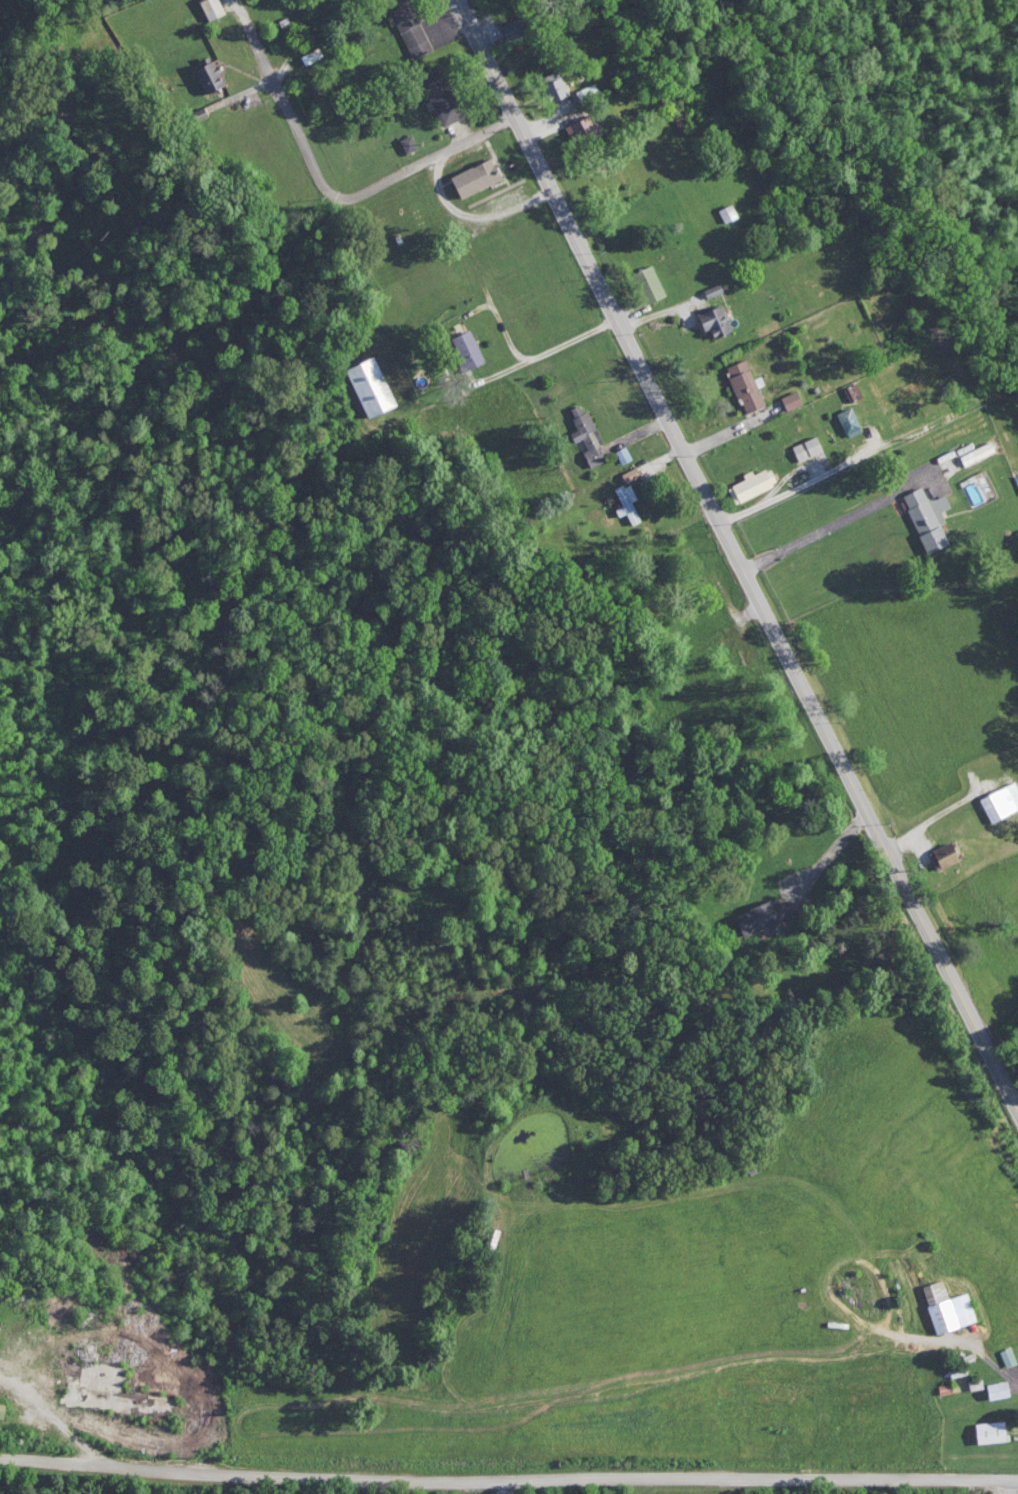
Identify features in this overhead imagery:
building: (207, 8)
building: (285, 24)
building: (405, 27)
building: (517, 29)
building: (312, 57)
building: (203, 74)
building: (555, 88)
building: (440, 97)
building: (199, 116)
building: (581, 126)
building: (410, 144)
building: (469, 176)
road: (324, 185)
building: (724, 212)
road: (471, 217)
building: (644, 283)
building: (710, 321)
road: (506, 331)
building: (462, 348)
road: (542, 355)
building: (367, 385)
building: (741, 385)
building: (853, 394)
building: (787, 400)
building: (849, 424)
road: (636, 434)
road: (724, 435)
building: (584, 439)
building: (807, 450)
road: (664, 464)
building: (748, 485)
road: (800, 486)
road: (845, 513)
building: (923, 517)
road: (732, 550)
building: (692, 563)
building: (999, 801)
building: (946, 858)
building: (760, 918)
building: (489, 1239)
building: (946, 1308)
building: (1003, 1357)
building: (1008, 1358)
road: (1015, 1381)
building: (109, 1391)
building: (996, 1391)
building: (990, 1433)
road: (508, 1481)
road: (501, 1488)

